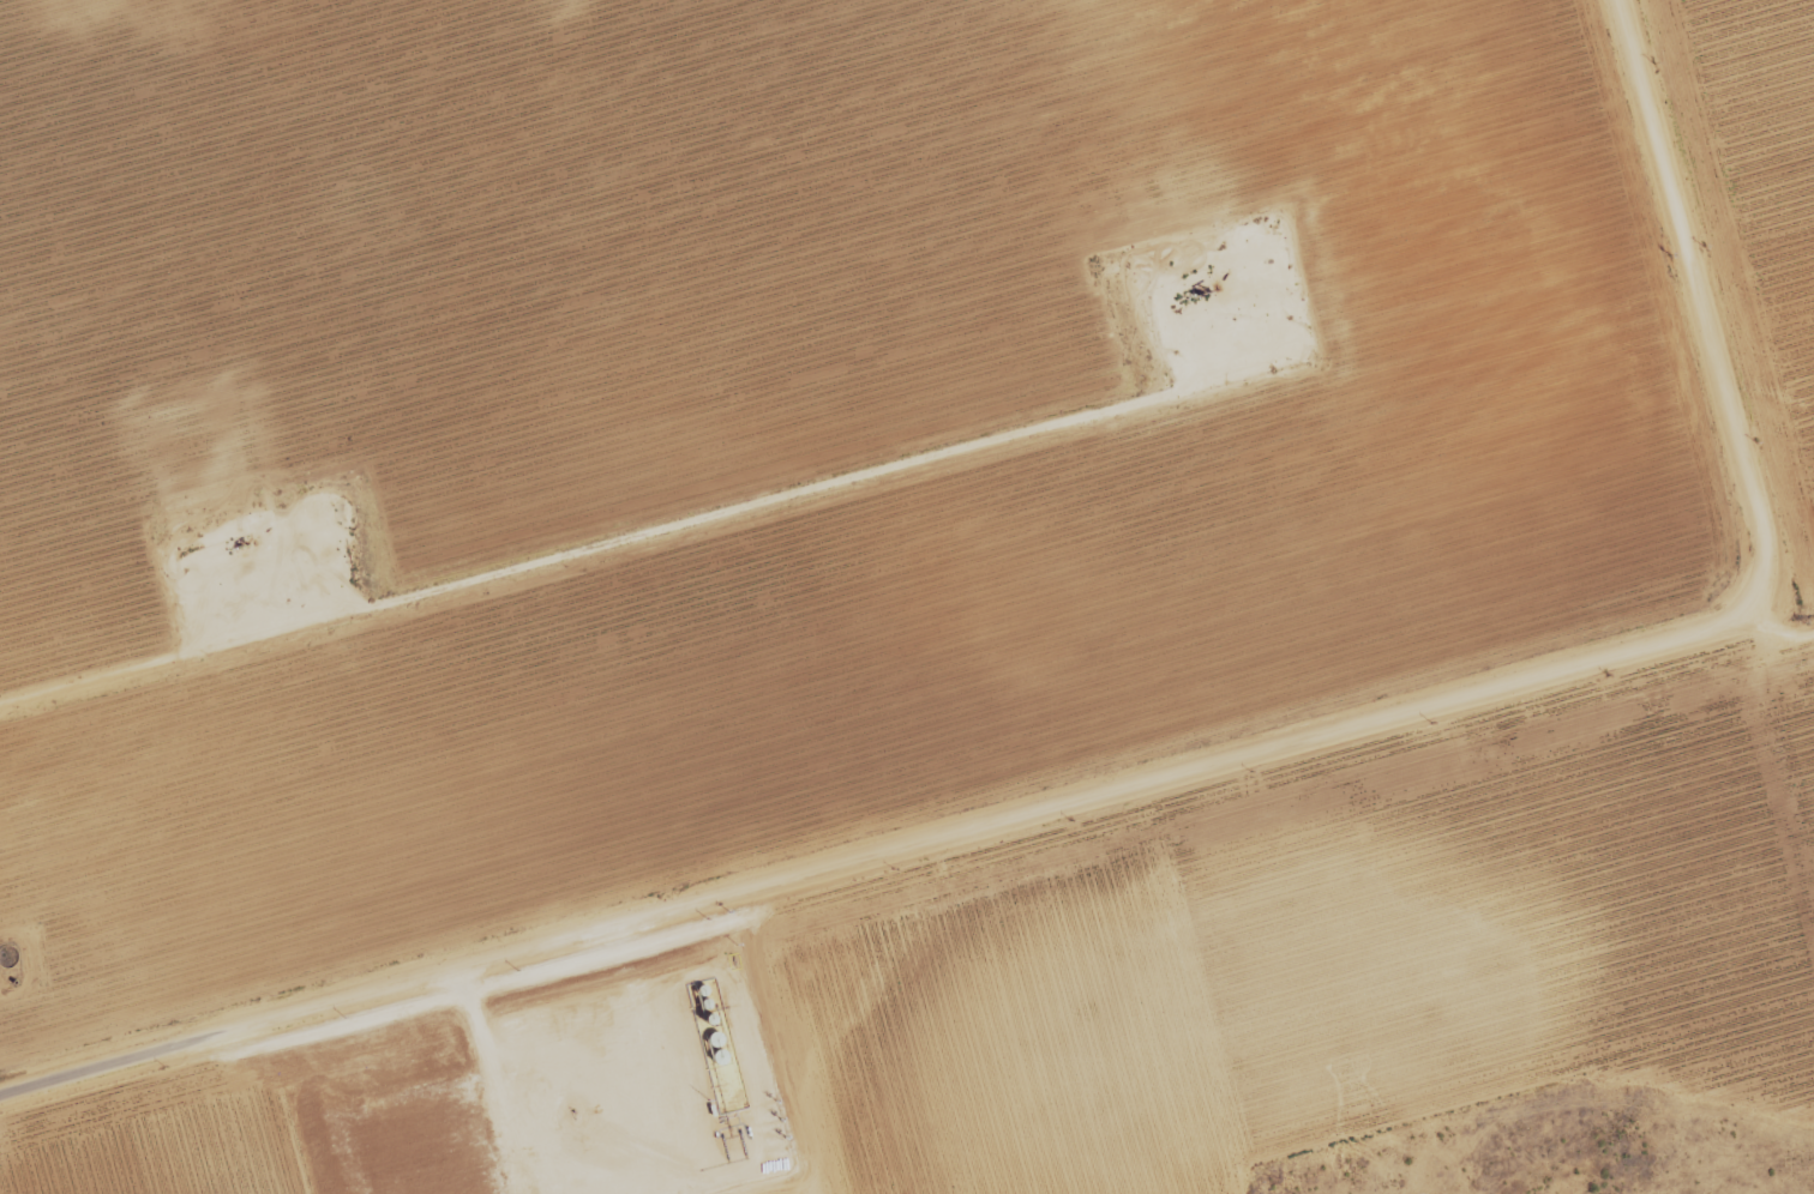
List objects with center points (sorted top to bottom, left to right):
road: (1700, 300)
road: (876, 862)

